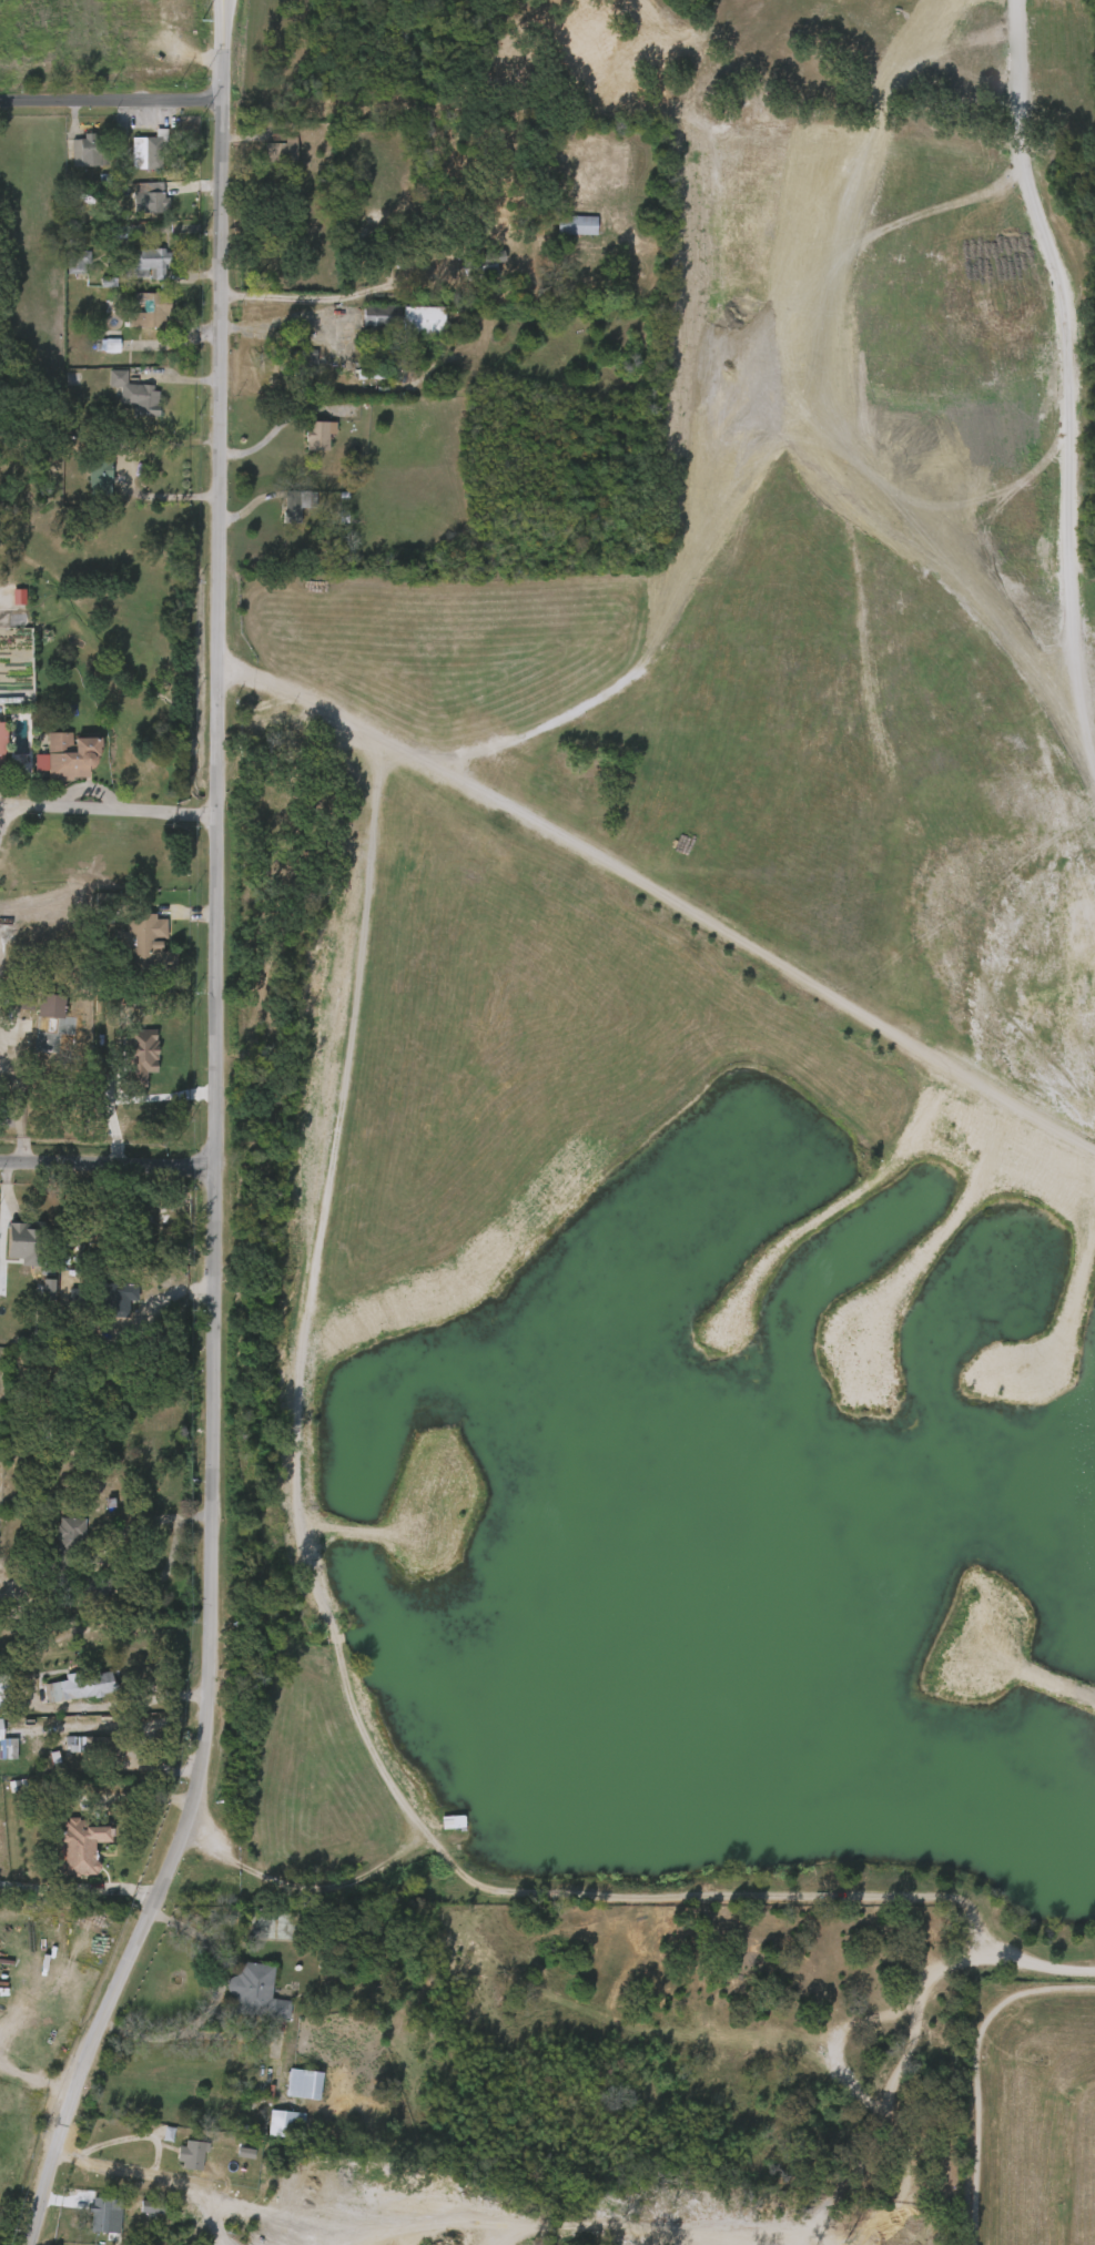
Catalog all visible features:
road: (223, 6)
road: (111, 96)
building: (151, 150)
building: (282, 150)
building: (89, 151)
building: (74, 158)
building: (267, 159)
building: (134, 160)
building: (150, 197)
building: (135, 205)
building: (576, 224)
building: (562, 232)
building: (78, 255)
building: (146, 261)
building: (477, 262)
building: (63, 270)
building: (134, 271)
road: (329, 297)
building: (148, 308)
building: (404, 318)
building: (366, 324)
road: (285, 326)
building: (382, 357)
building: (303, 362)
building: (134, 393)
building: (121, 402)
road: (265, 434)
building: (317, 434)
building: (304, 443)
building: (97, 467)
building: (85, 484)
road: (159, 505)
building: (292, 506)
building: (1, 745)
building: (68, 755)
road: (4, 803)
road: (89, 809)
road: (205, 813)
building: (148, 946)
building: (17, 997)
building: (45, 1020)
road: (3, 1127)
road: (215, 1145)
road: (107, 1165)
building: (24, 1243)
building: (11, 1250)
building: (114, 1297)
building: (78, 1300)
building: (67, 1547)
road: (105, 1560)
building: (93, 1585)
building: (83, 1593)
building: (99, 1683)
building: (51, 1695)
building: (0, 1729)
building: (99, 1745)
building: (82, 1753)
building: (1, 1755)
building: (98, 1799)
building: (79, 1847)
road: (220, 1868)
building: (257, 1932)
building: (257, 1992)
road: (34, 2078)
building: (301, 2083)
building: (290, 2090)
building: (284, 2123)
building: (271, 2130)
road: (111, 2145)
building: (190, 2154)
building: (178, 2161)
road: (160, 2178)
road: (317, 2212)
building: (99, 2214)
building: (138, 2214)
building: (87, 2221)
road: (280, 2228)

